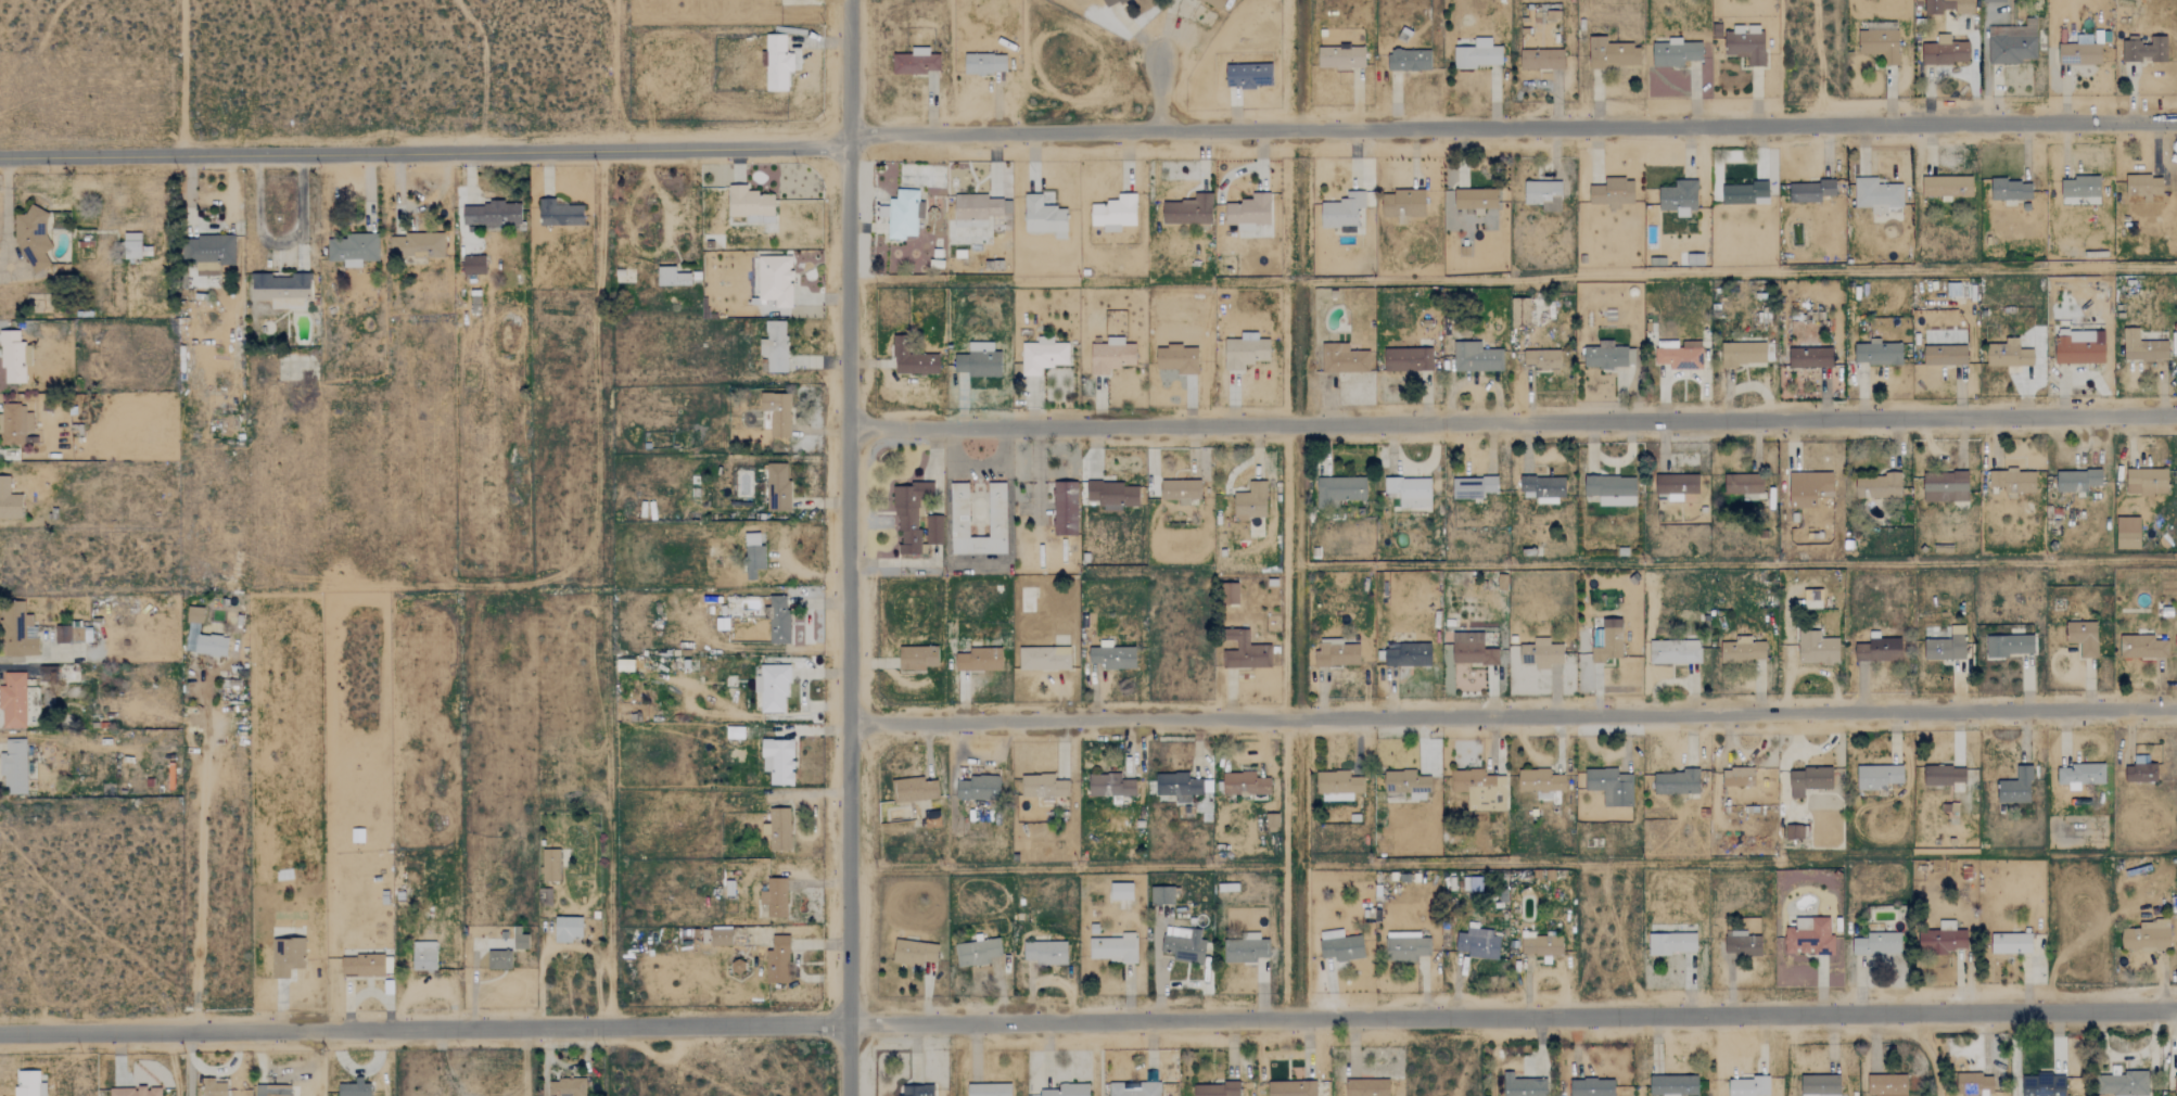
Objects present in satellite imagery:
building: (1993, 0)
building: (1109, 2)
building: (1214, 3)
building: (1948, 7)
building: (1745, 43)
building: (2013, 43)
building: (1880, 46)
building: (2144, 49)
building: (1945, 51)
building: (2079, 51)
building: (1675, 52)
building: (1478, 53)
building: (1612, 53)
building: (1341, 58)
building: (1541, 59)
building: (1409, 60)
building: (915, 61)
building: (776, 62)
building: (984, 63)
building: (1248, 75)
road: (1159, 92)
road: (1086, 132)
building: (1947, 186)
building: (2143, 186)
road: (691, 187)
building: (2011, 189)
building: (1810, 191)
building: (1612, 192)
building: (1745, 192)
building: (2079, 192)
building: (1543, 194)
building: (1876, 194)
building: (1679, 197)
building: (1476, 199)
building: (1404, 200)
building: (750, 204)
building: (978, 209)
building: (1187, 209)
building: (1248, 212)
building: (1342, 212)
building: (559, 213)
building: (1113, 213)
building: (903, 214)
building: (1043, 214)
building: (491, 215)
building: (33, 239)
road: (278, 244)
building: (131, 245)
building: (415, 246)
building: (352, 248)
road: (637, 250)
building: (209, 252)
building: (1691, 259)
building: (473, 265)
building: (672, 277)
building: (774, 279)
road: (1513, 281)
building: (280, 290)
building: (1520, 311)
building: (774, 345)
building: (2078, 346)
building: (2142, 347)
building: (1245, 351)
building: (1877, 353)
building: (1679, 354)
building: (1742, 354)
building: (2009, 354)
building: (1042, 355)
building: (1110, 355)
building: (1608, 355)
building: (1945, 355)
building: (13, 357)
building: (1476, 357)
building: (1810, 357)
building: (1177, 358)
building: (1342, 358)
building: (1542, 358)
building: (912, 359)
building: (1408, 359)
building: (978, 360)
building: (776, 412)
road: (1734, 418)
building: (14, 424)
road: (1071, 425)
building: (2077, 480)
building: (2012, 481)
building: (2147, 481)
building: (1743, 483)
building: (1676, 485)
building: (777, 486)
building: (1877, 486)
building: (1945, 486)
building: (1474, 487)
building: (1809, 487)
building: (1543, 488)
building: (1180, 489)
building: (1340, 489)
building: (1611, 489)
building: (1410, 490)
building: (1112, 494)
building: (9, 501)
building: (1250, 501)
building: (1064, 508)
building: (958, 510)
building: (907, 518)
building: (933, 526)
building: (2127, 533)
road: (850, 547)
building: (752, 555)
building: (1231, 592)
building: (778, 619)
building: (17, 630)
building: (71, 634)
building: (201, 637)
building: (2083, 637)
building: (1607, 641)
building: (1947, 646)
building: (2010, 646)
building: (2142, 647)
building: (1817, 648)
building: (1472, 649)
building: (1743, 649)
building: (1877, 649)
building: (1673, 651)
building: (1246, 653)
building: (1541, 653)
building: (1336, 654)
building: (1408, 654)
building: (1111, 655)
road: (29, 657)
building: (916, 658)
building: (1044, 659)
building: (978, 660)
building: (772, 687)
building: (17, 702)
road: (1736, 712)
road: (1073, 721)
building: (734, 732)
building: (777, 761)
building: (13, 767)
building: (2140, 773)
building: (2081, 775)
building: (1877, 776)
building: (1737, 777)
building: (1945, 777)
building: (1809, 780)
building: (1676, 782)
building: (1244, 783)
building: (1406, 783)
building: (1541, 783)
building: (1043, 786)
building: (1110, 786)
building: (1176, 786)
building: (1338, 786)
building: (1609, 786)
building: (2015, 787)
building: (978, 788)
building: (915, 789)
building: (1480, 789)
building: (931, 818)
building: (779, 829)
building: (1796, 832)
building: (550, 865)
road: (201, 874)
building: (1121, 889)
building: (1163, 893)
building: (774, 896)
building: (566, 929)
building: (2078, 932)
building: (720, 935)
building: (2147, 935)
building: (1943, 938)
building: (519, 939)
building: (1810, 939)
building: (1184, 942)
building: (1477, 942)
building: (1340, 943)
building: (1671, 943)
building: (1742, 943)
building: (2011, 943)
building: (1540, 944)
building: (1876, 944)
building: (1115, 946)
building: (1245, 946)
building: (1405, 946)
building: (1045, 948)
building: (914, 951)
building: (977, 951)
building: (287, 956)
building: (423, 956)
building: (498, 959)
building: (777, 960)
building: (361, 965)
road: (1087, 1021)
road: (190, 1063)
road: (527, 1063)
road: (227, 1067)
road: (448, 1071)
building: (2175, 1080)
building: (28, 1082)
building: (2126, 1082)
building: (1672, 1083)
building: (1821, 1083)
building: (1975, 1083)
building: (1523, 1084)
building: (1747, 1084)
building: (2042, 1084)
building: (1886, 1085)
building: (212, 1086)
building: (565, 1086)
building: (1592, 1086)
building: (355, 1087)
building: (1366, 1087)
building: (916, 1088)
building: (988, 1088)
building: (1067, 1088)
building: (1134, 1088)
building: (1291, 1088)
building: (1215, 1089)
building: (271, 1091)
building: (135, 1092)
road: (522, 1093)

